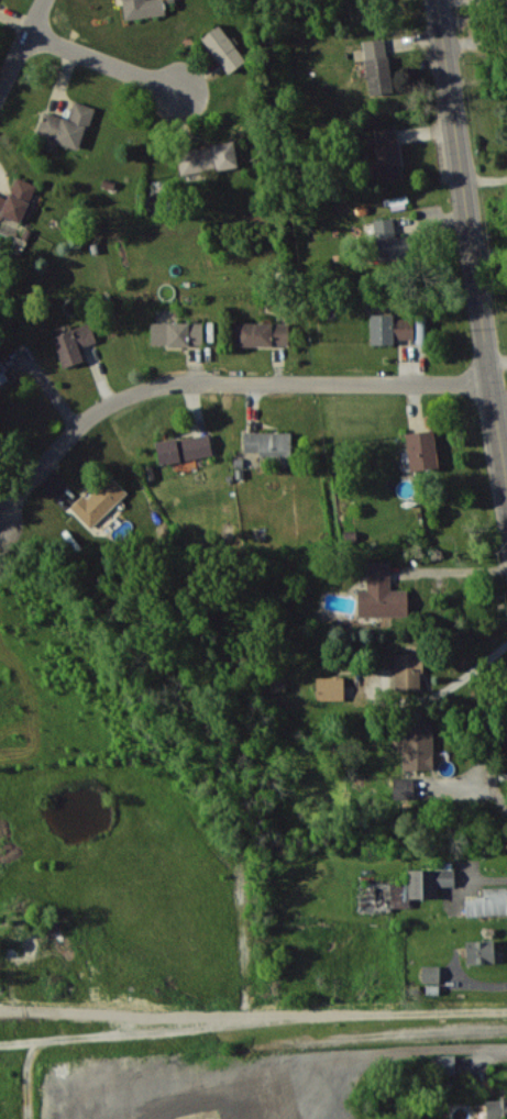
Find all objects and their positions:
building: (142, 8)
road: (23, 46)
building: (223, 48)
road: (110, 64)
building: (377, 65)
road: (477, 79)
building: (66, 125)
building: (387, 155)
building: (207, 157)
road: (484, 181)
building: (16, 200)
building: (390, 242)
road: (469, 242)
building: (422, 328)
building: (389, 329)
building: (177, 333)
building: (263, 333)
building: (74, 343)
building: (4, 373)
road: (216, 385)
building: (271, 445)
building: (184, 447)
building: (421, 450)
building: (99, 500)
road: (456, 573)
building: (381, 592)
building: (408, 671)
building: (330, 688)
building: (417, 744)
road: (489, 755)
road: (466, 785)
building: (403, 787)
road: (474, 880)
building: (421, 885)
building: (488, 902)
building: (481, 951)
building: (431, 973)
road: (363, 1050)
building: (445, 1064)
building: (496, 1109)

